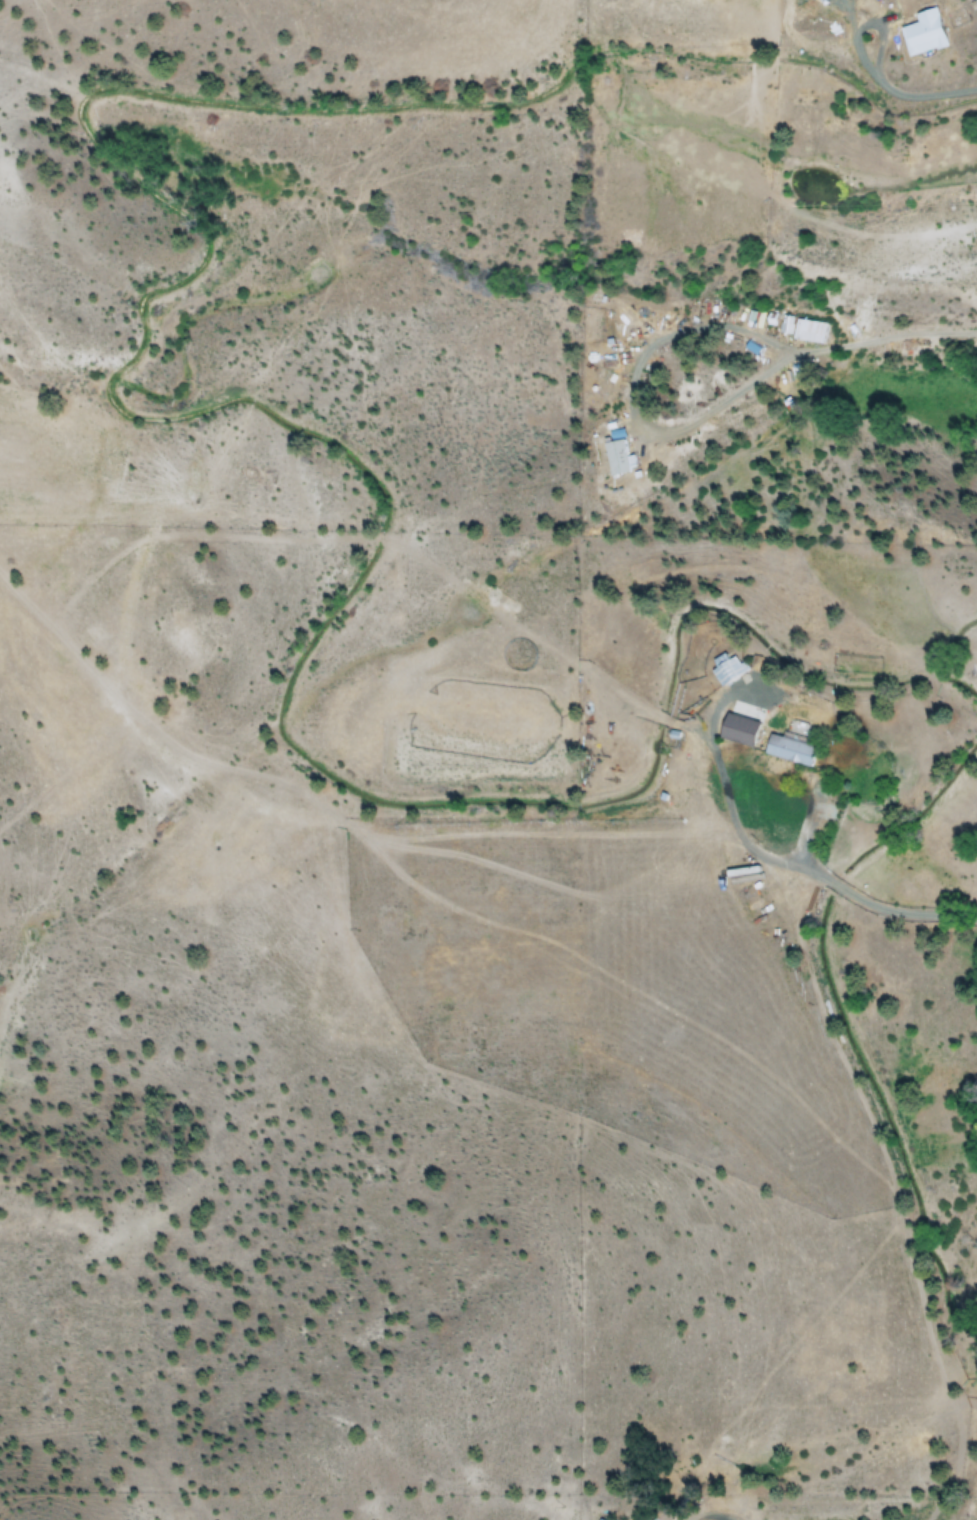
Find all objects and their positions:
road: (868, 23)
building: (919, 36)
road: (932, 95)
building: (806, 331)
road: (883, 338)
road: (633, 396)
building: (614, 459)
building: (723, 670)
building: (735, 732)
building: (786, 750)
road: (777, 858)
building: (657, 1518)
building: (646, 1519)

